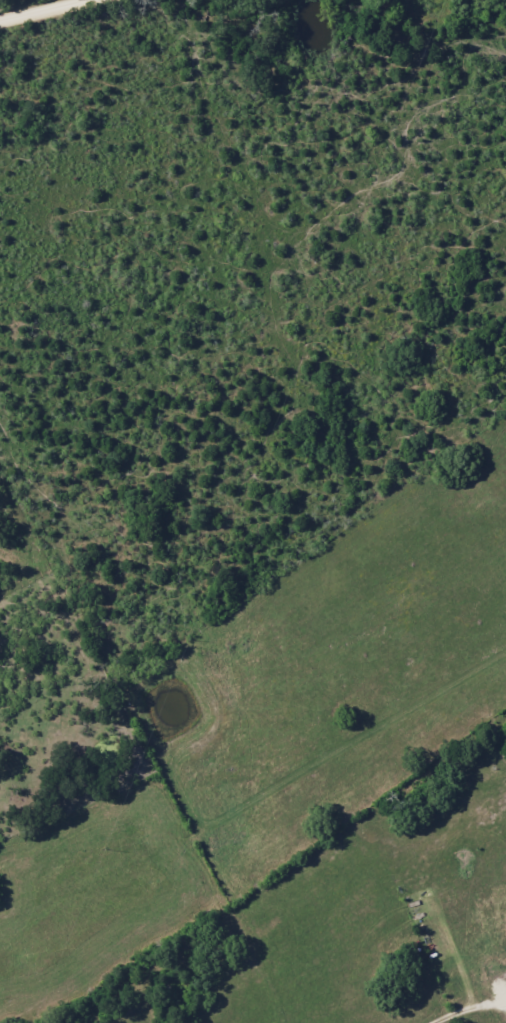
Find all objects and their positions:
road: (47, 11)

